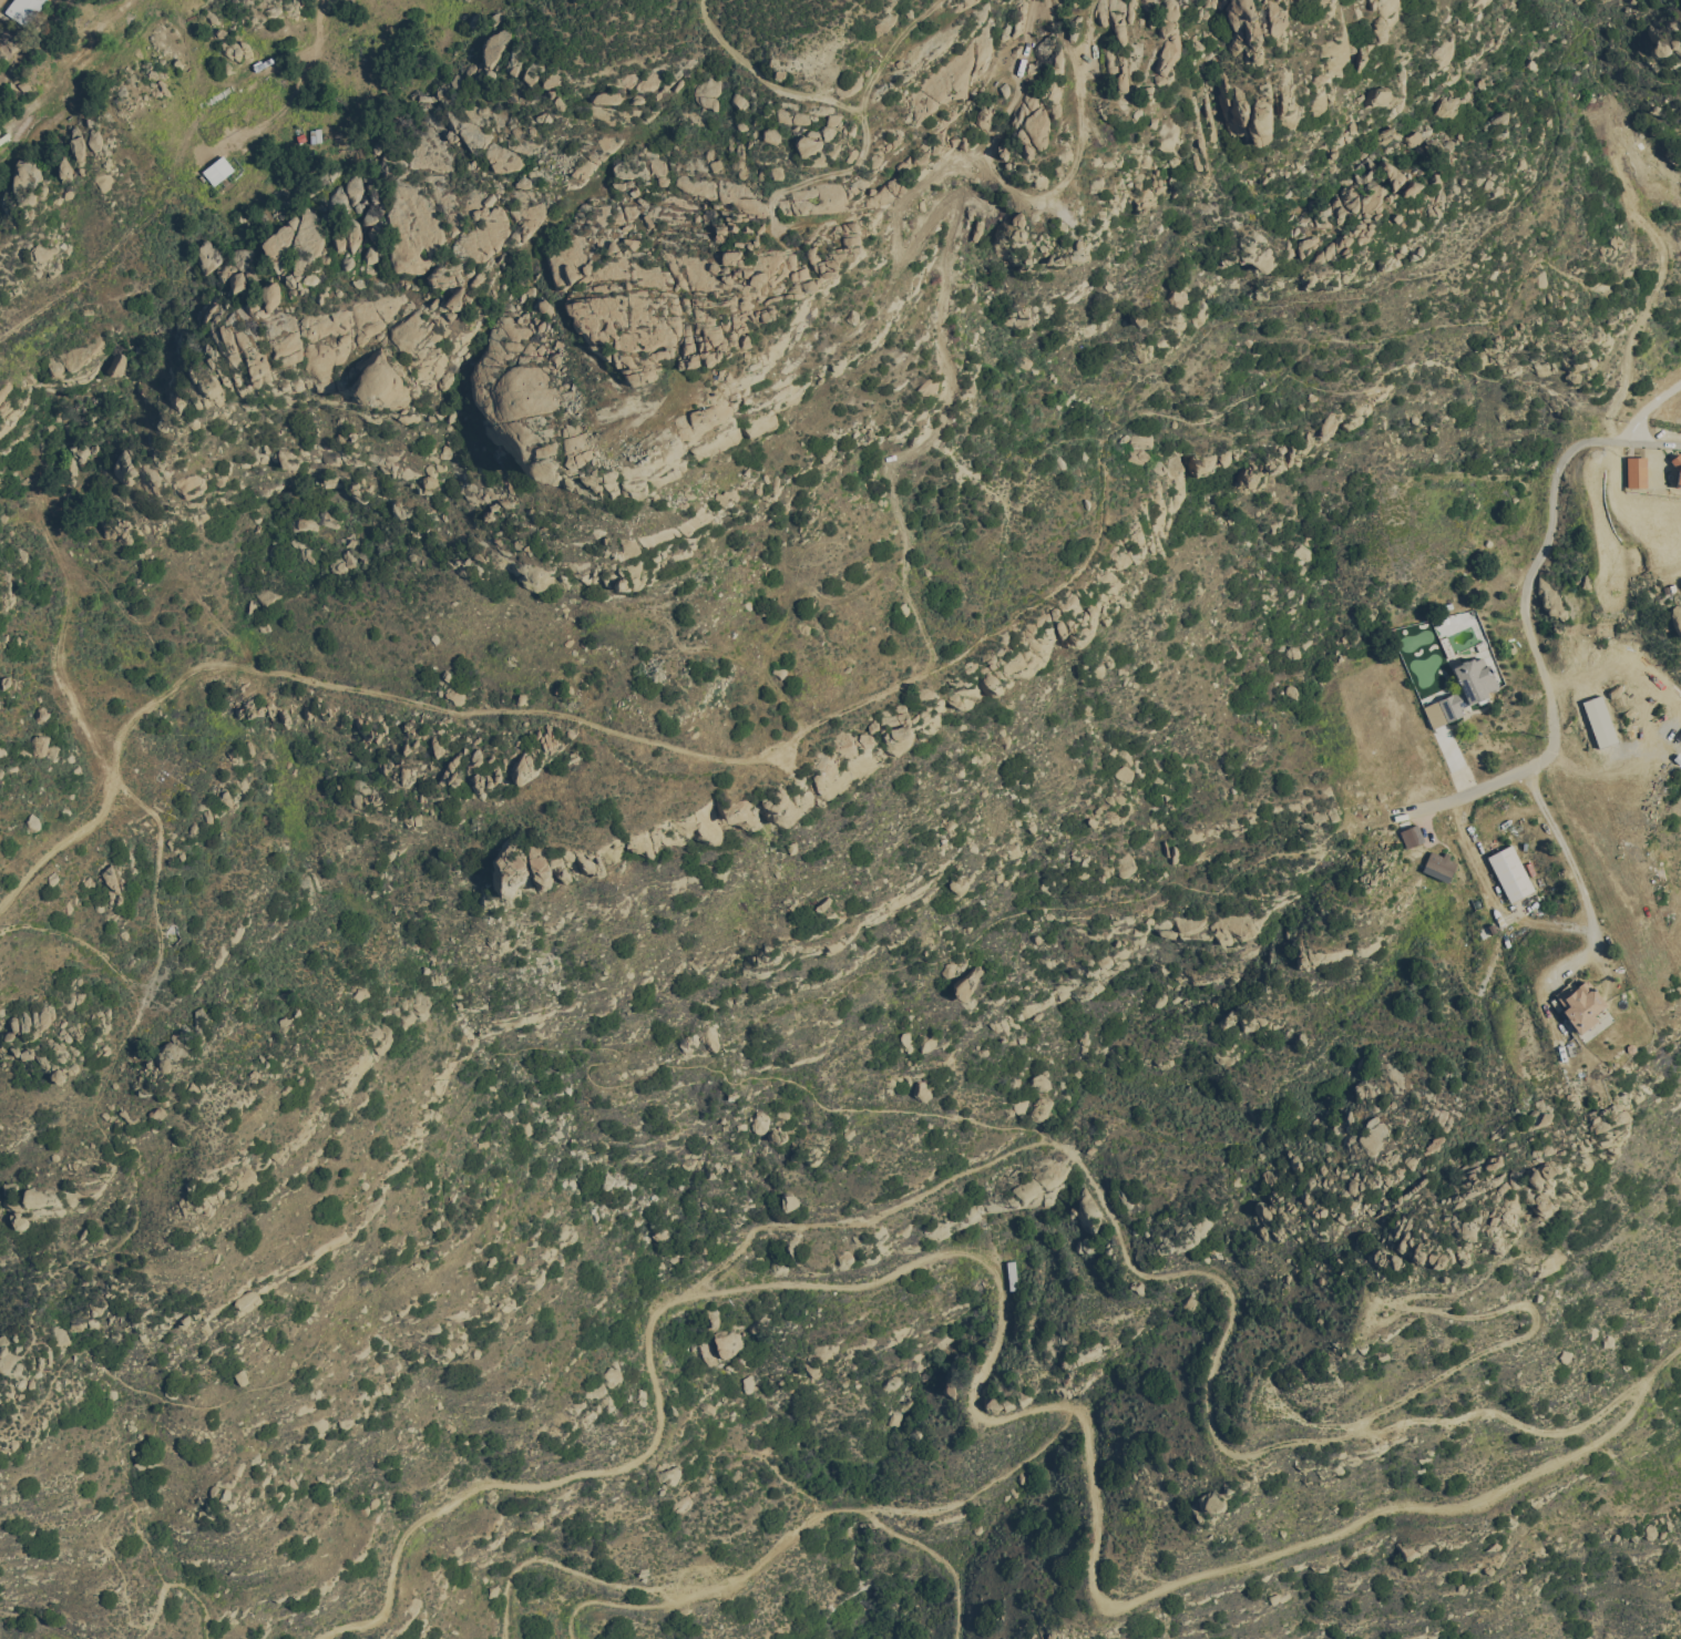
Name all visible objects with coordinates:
building: (22, 10)
road: (319, 23)
building: (1374, 96)
building: (1445, 106)
building: (921, 107)
building: (981, 117)
road: (234, 126)
building: (216, 170)
building: (1390, 172)
building: (38, 254)
building: (205, 255)
building: (234, 269)
building: (268, 295)
building: (115, 363)
building: (1139, 440)
road: (1654, 441)
building: (1634, 471)
building: (1677, 472)
building: (1116, 556)
building: (339, 562)
building: (263, 595)
road: (1523, 606)
building: (1466, 686)
building: (38, 745)
building: (1123, 772)
building: (1410, 836)
road: (1568, 860)
building: (1123, 864)
building: (1437, 864)
building: (1509, 872)
building: (1578, 1004)
building: (1037, 1109)
building: (787, 1201)
road: (1214, 1277)
building: (725, 1341)
road: (984, 1362)
building: (666, 1473)
road: (772, 1549)
road: (939, 1555)
road: (611, 1601)

